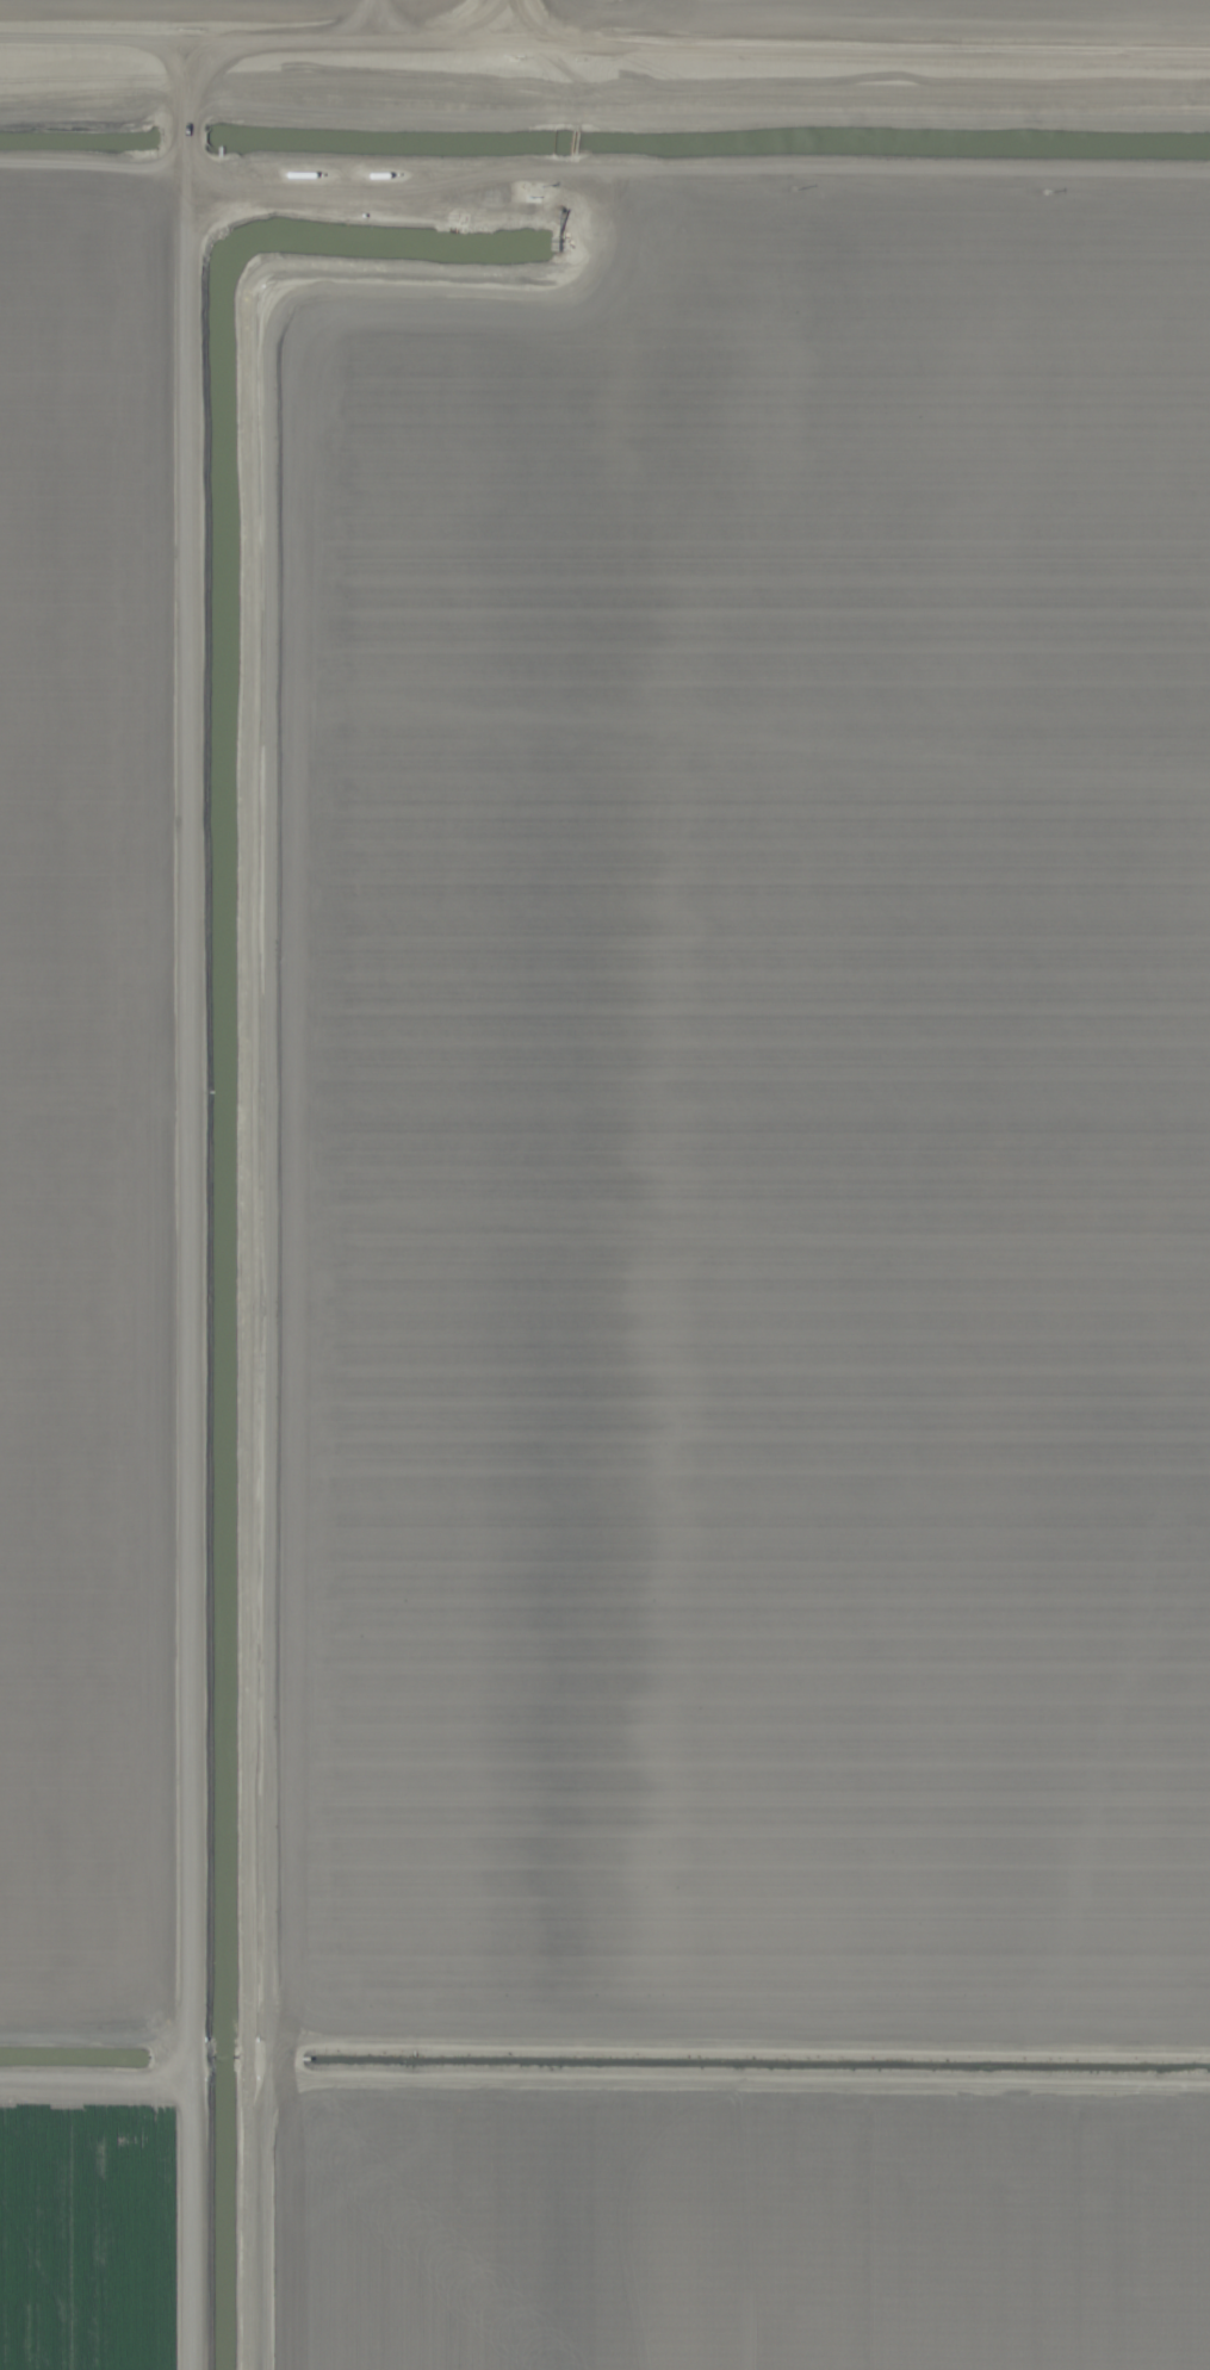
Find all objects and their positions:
road: (514, 26)
road: (604, 52)
road: (604, 181)
crop: (604, 1185)
road: (197, 1208)

